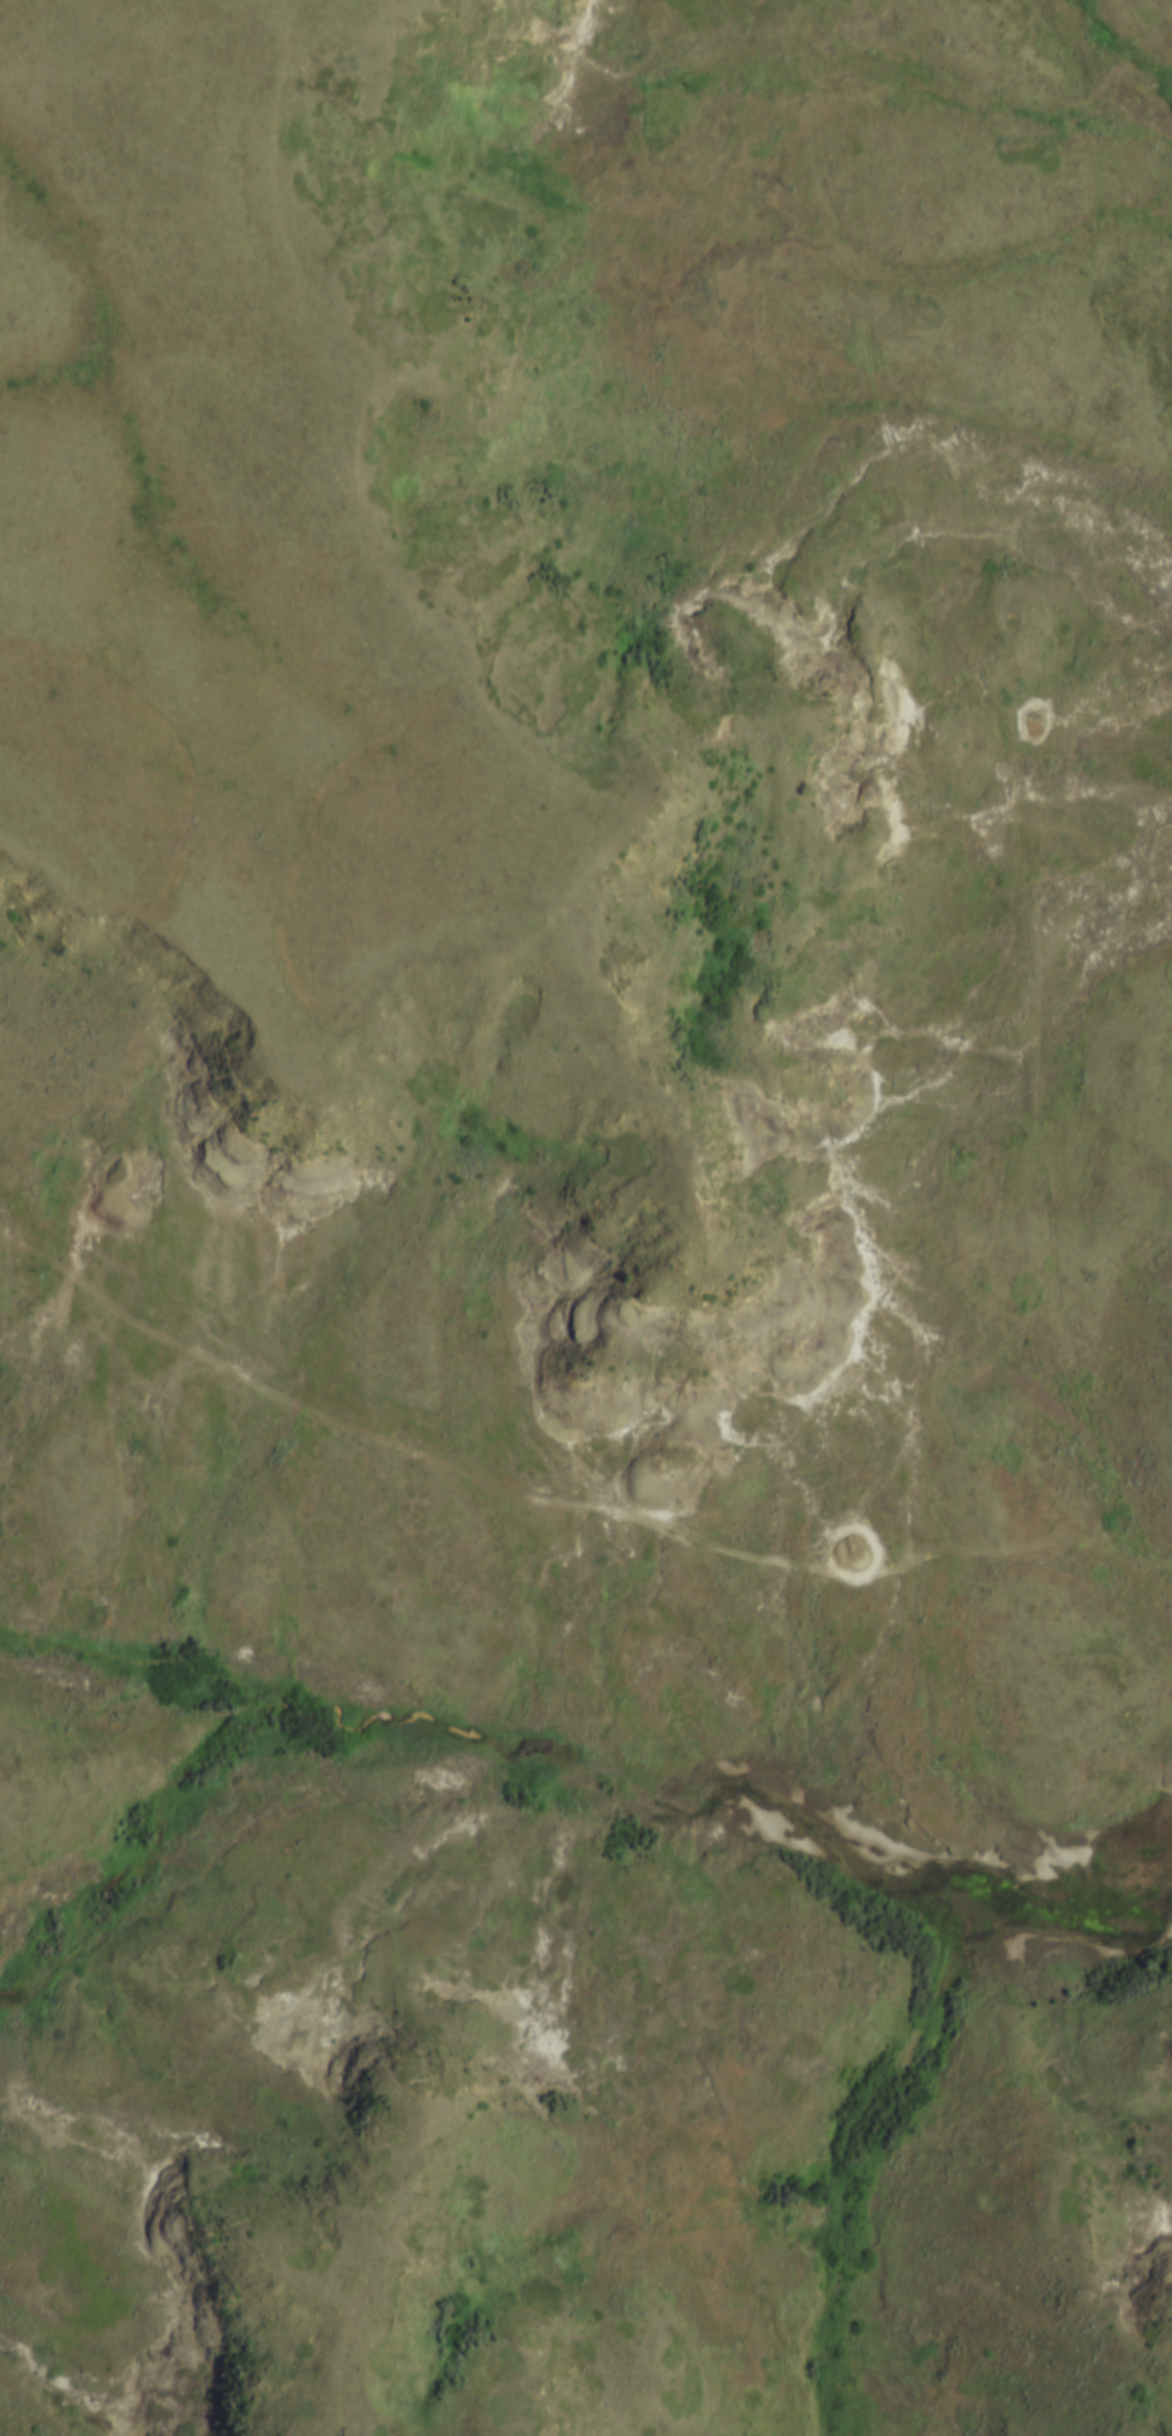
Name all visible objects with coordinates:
road: (561, 1499)
road: (1170, 1554)

